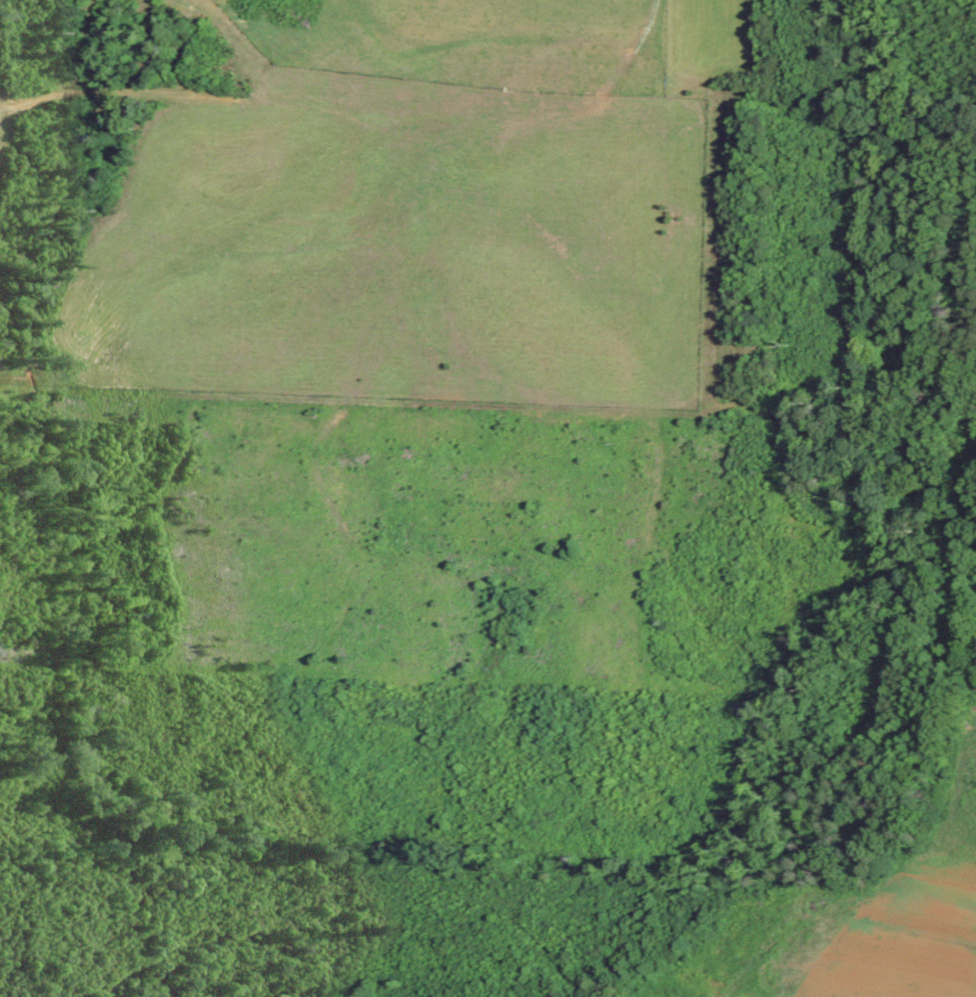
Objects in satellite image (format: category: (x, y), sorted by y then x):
road: (970, 458)

